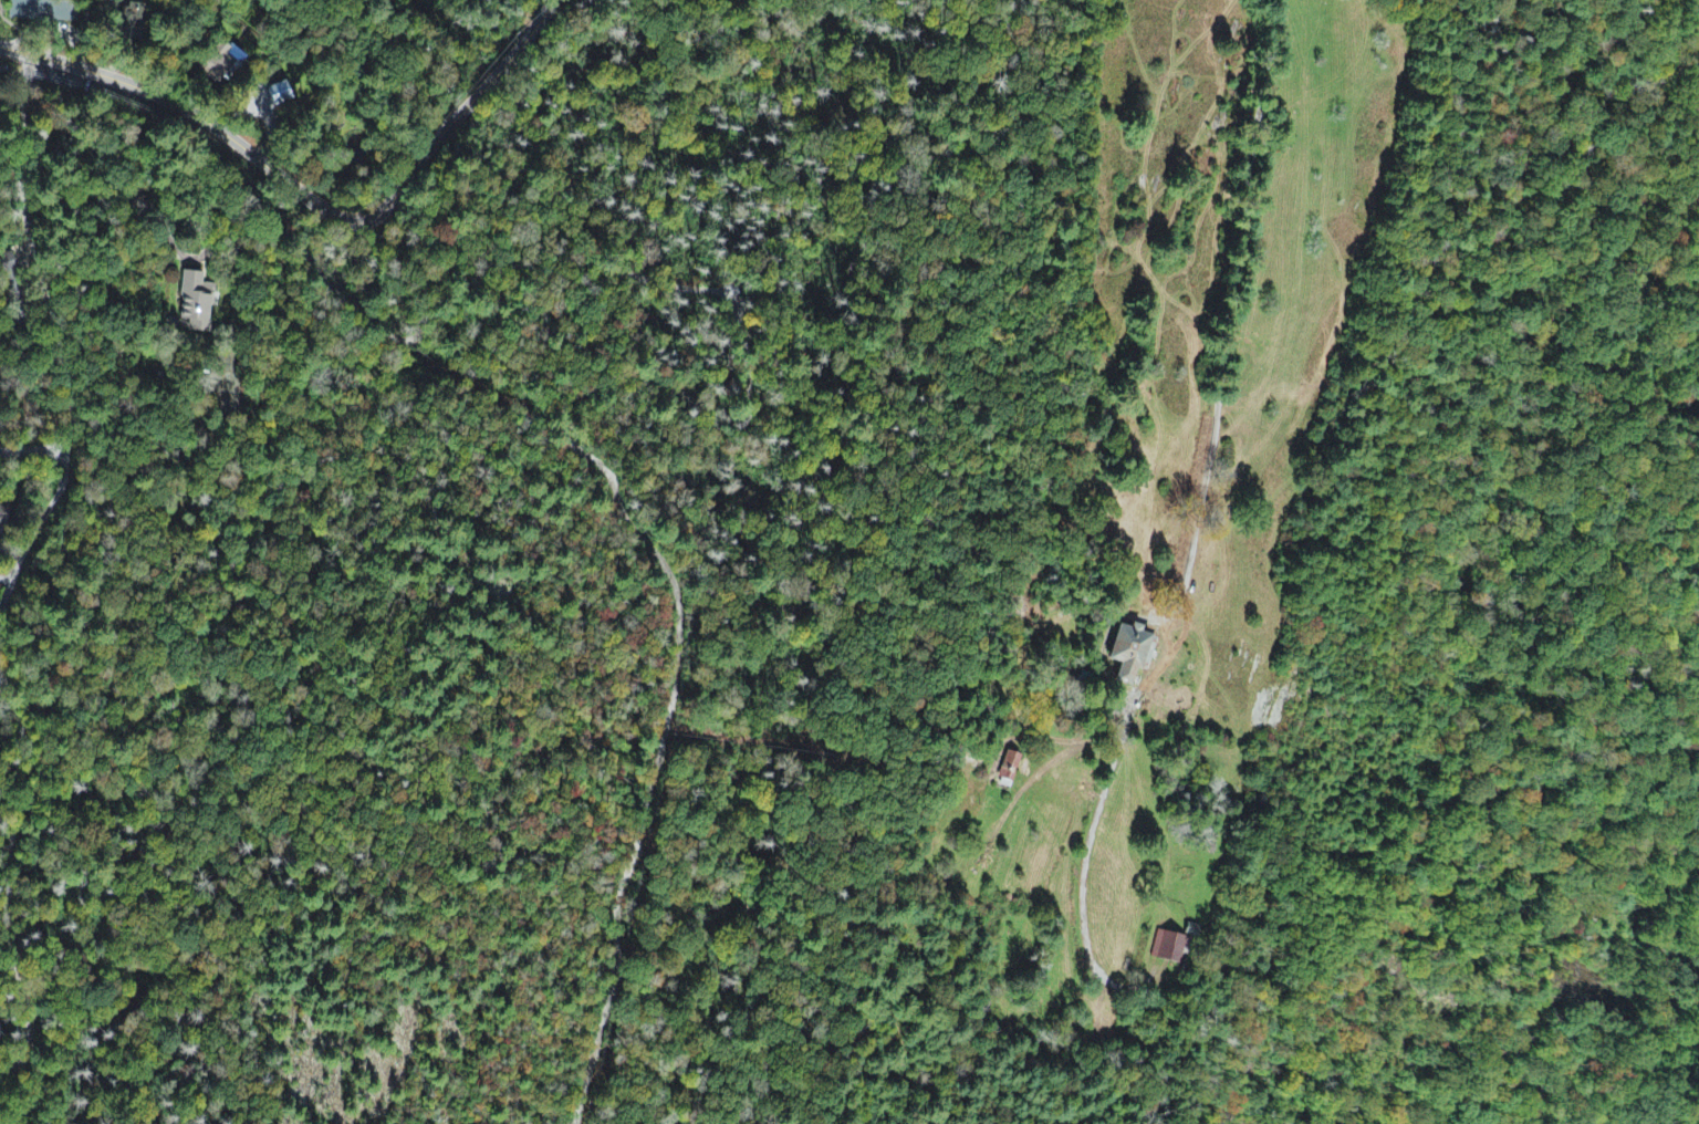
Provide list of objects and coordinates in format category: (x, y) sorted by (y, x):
building: (42, 10)
road: (8, 21)
road: (84, 21)
road: (52, 31)
building: (280, 96)
road: (312, 204)
building: (196, 305)
road: (404, 337)
road: (60, 339)
road: (33, 451)
building: (1, 512)
building: (1133, 654)
road: (674, 663)
road: (1024, 675)
building: (1010, 769)
road: (9, 883)
building: (1174, 948)

